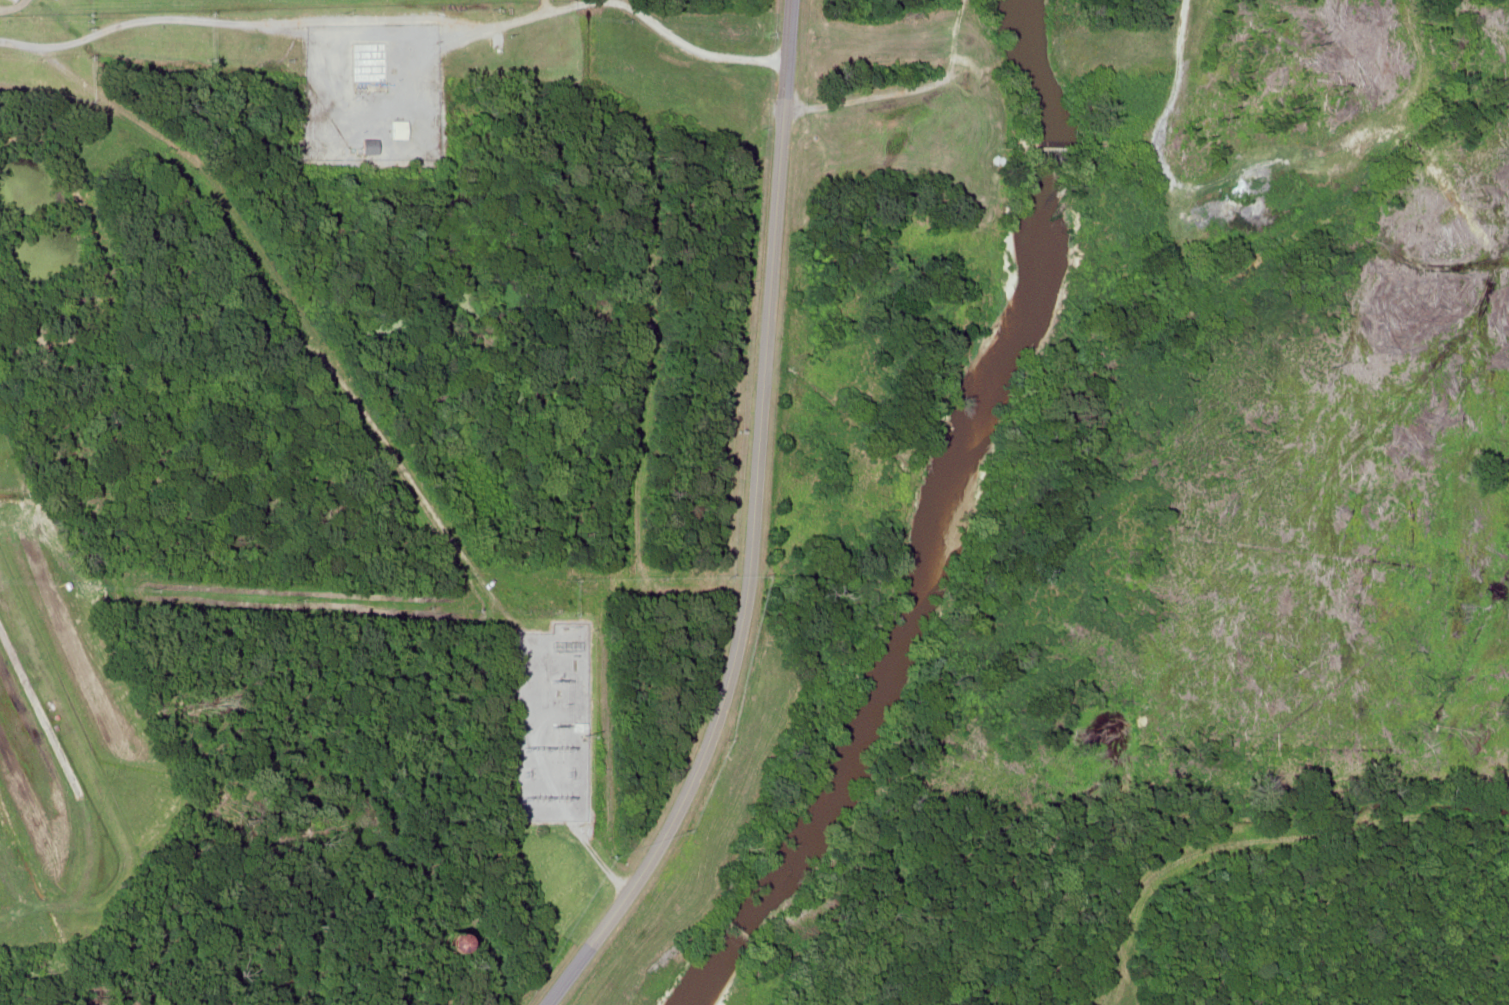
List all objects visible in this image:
wastewater plant: (155, 4)
power substation: (370, 91)
building: (1, 271)
road: (742, 527)
power substation: (550, 723)

